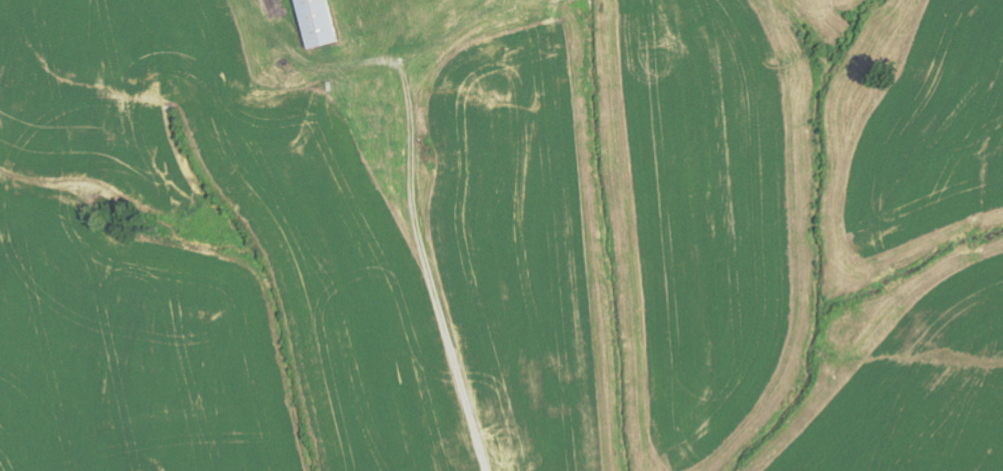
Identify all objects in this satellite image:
building: (323, 22)

